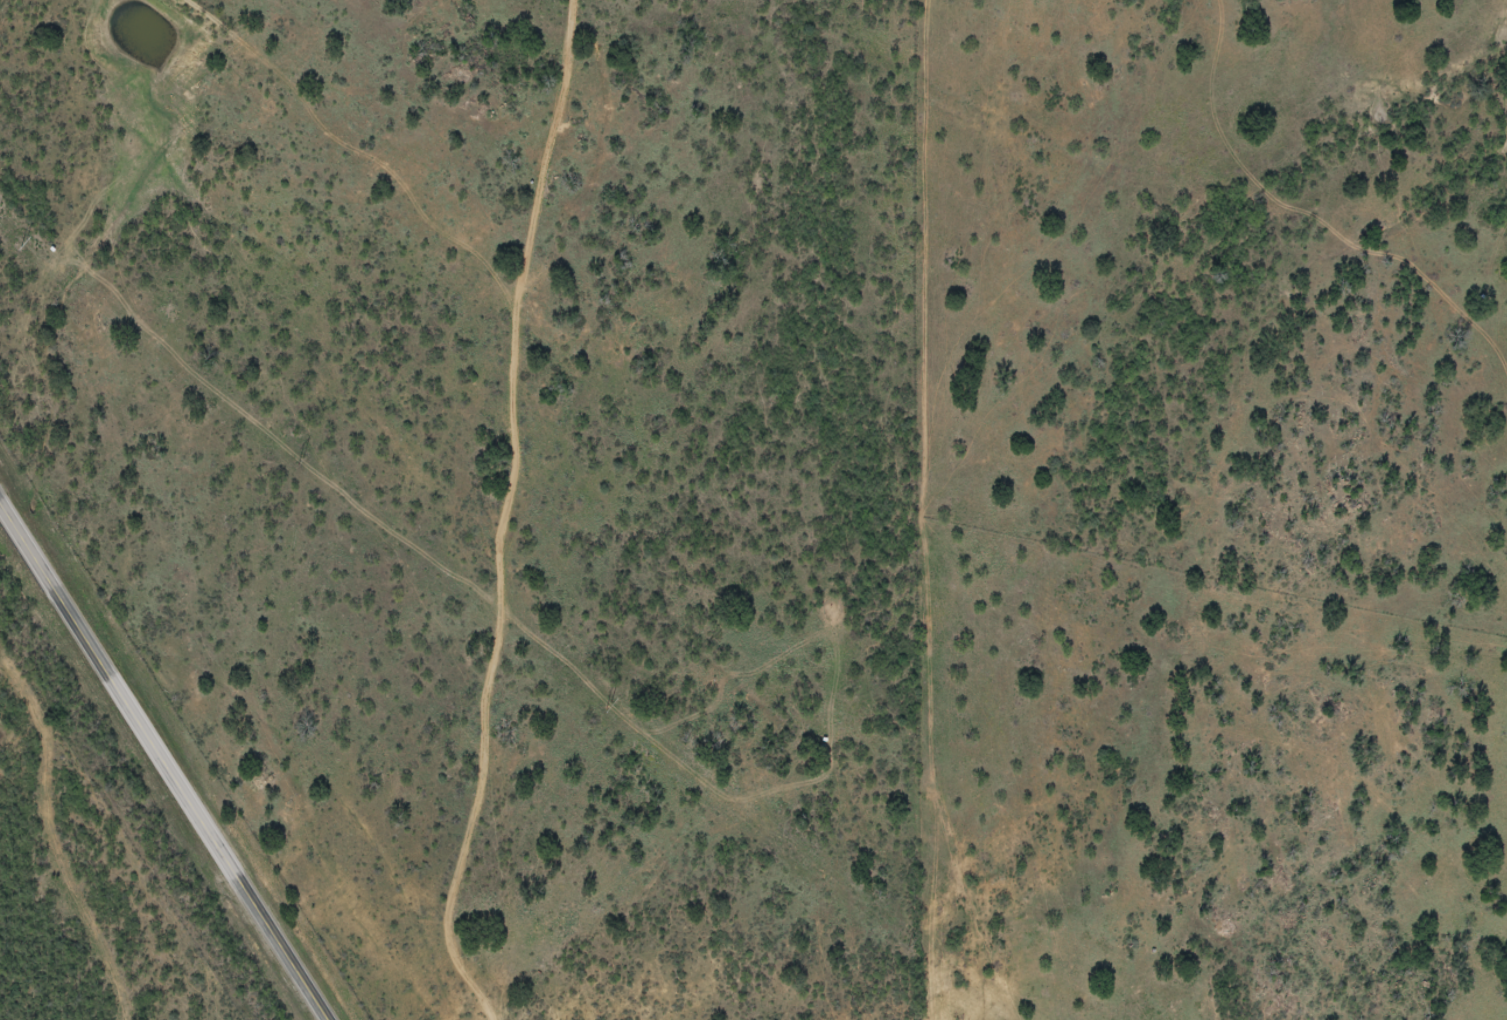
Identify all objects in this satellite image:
power tower: (31, 246)
power tower: (301, 460)
road: (513, 502)
power tower: (606, 705)
road: (164, 760)
power tower: (909, 942)

